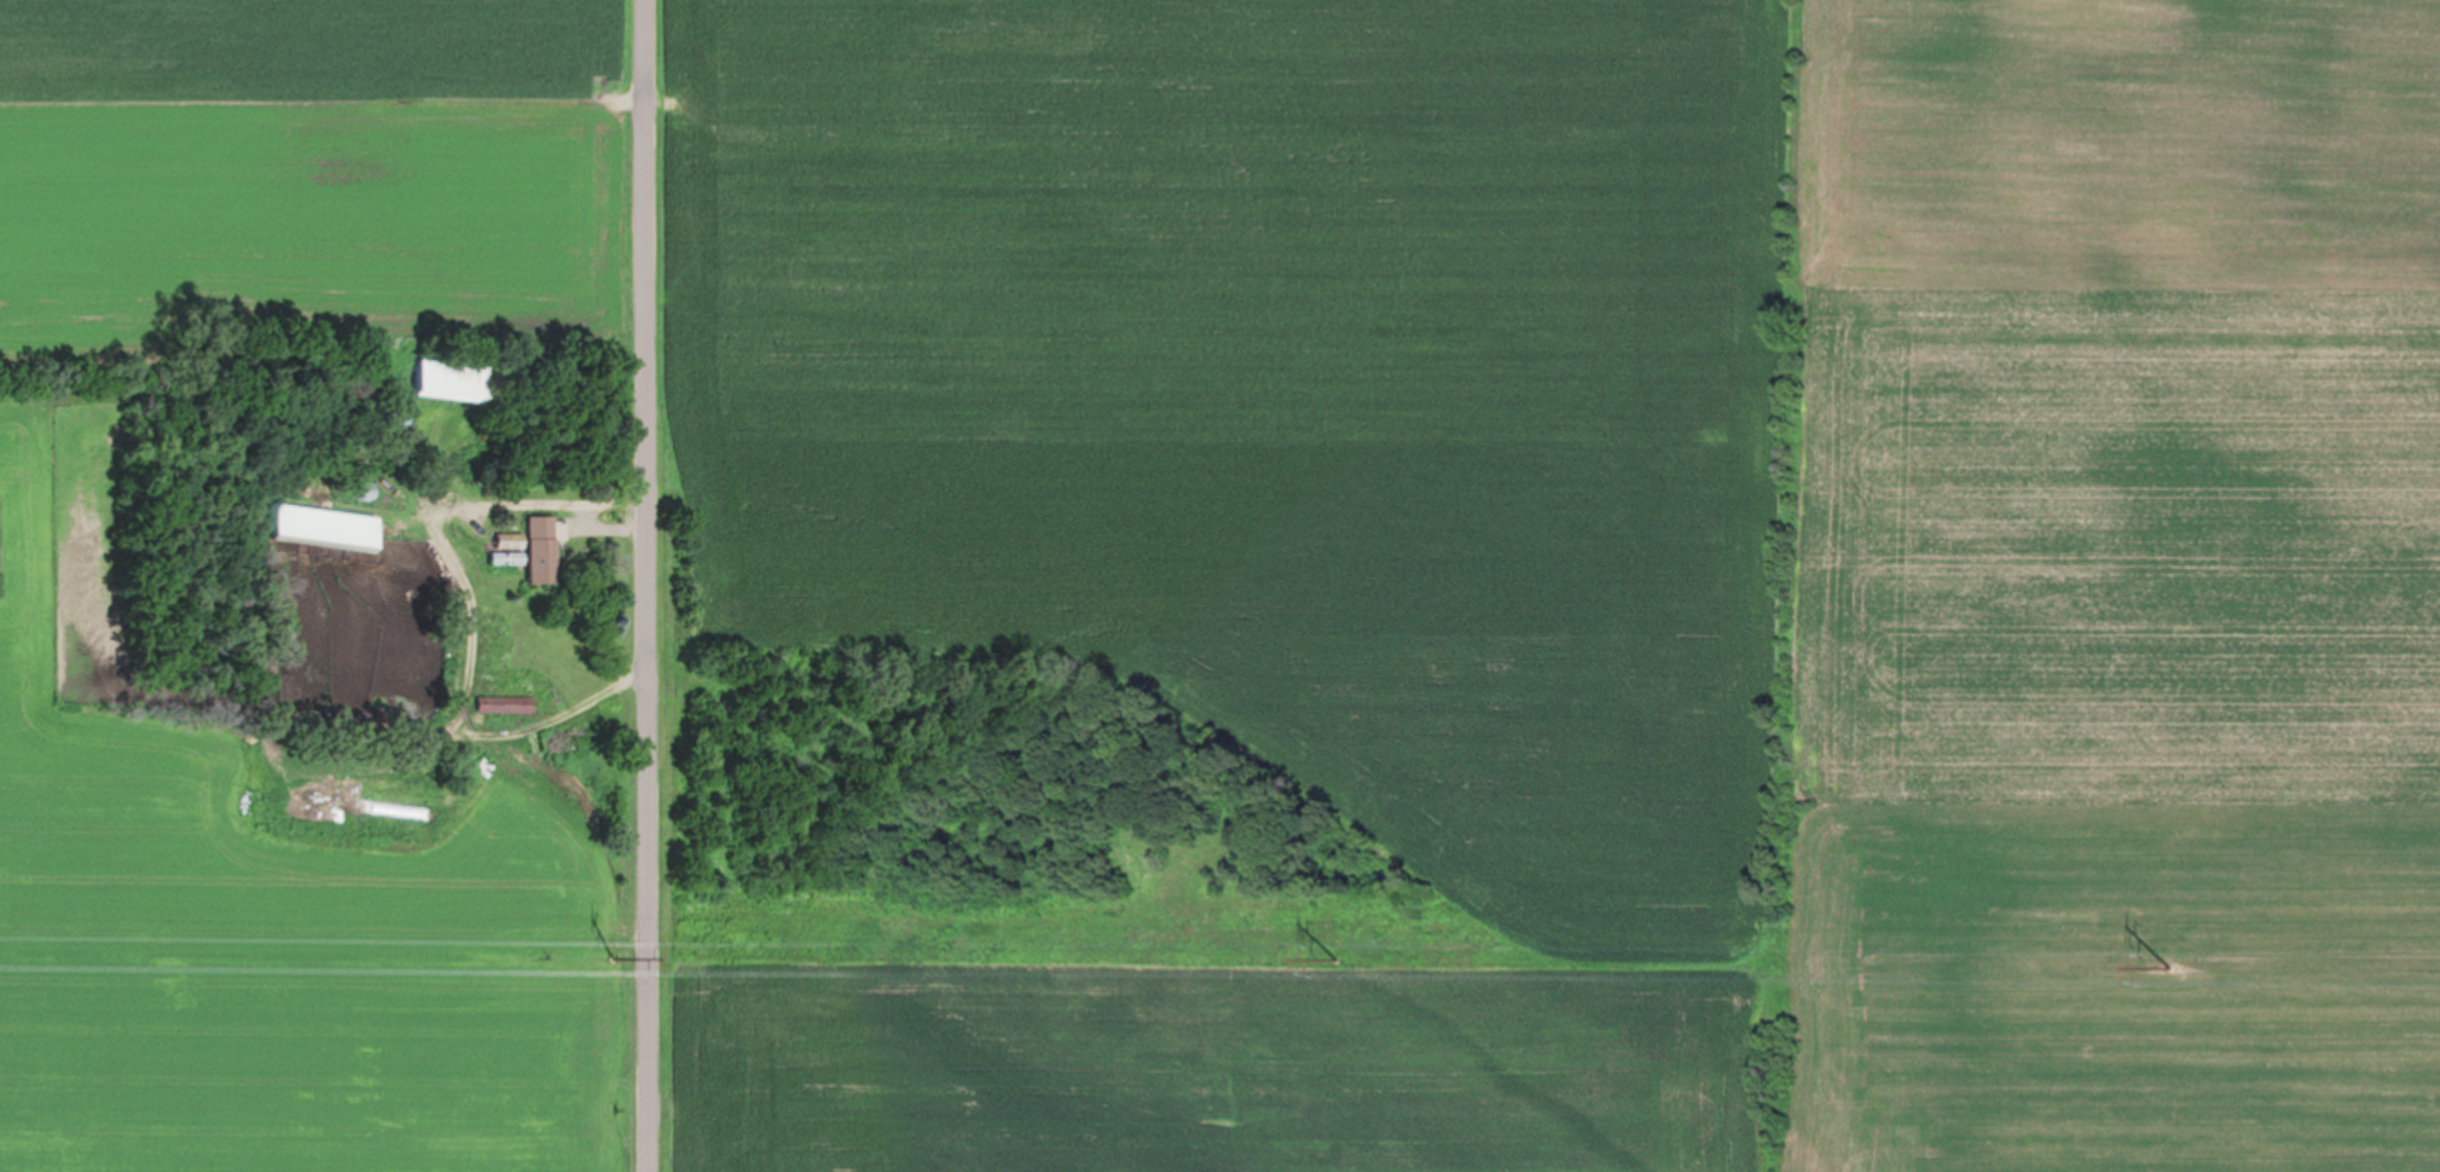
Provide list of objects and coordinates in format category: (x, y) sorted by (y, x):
building: (458, 379)
road: (522, 503)
building: (331, 527)
building: (546, 550)
road: (650, 586)
building: (508, 707)
road: (563, 716)
power tower: (618, 950)
power tower: (1343, 953)
power tower: (2172, 959)

